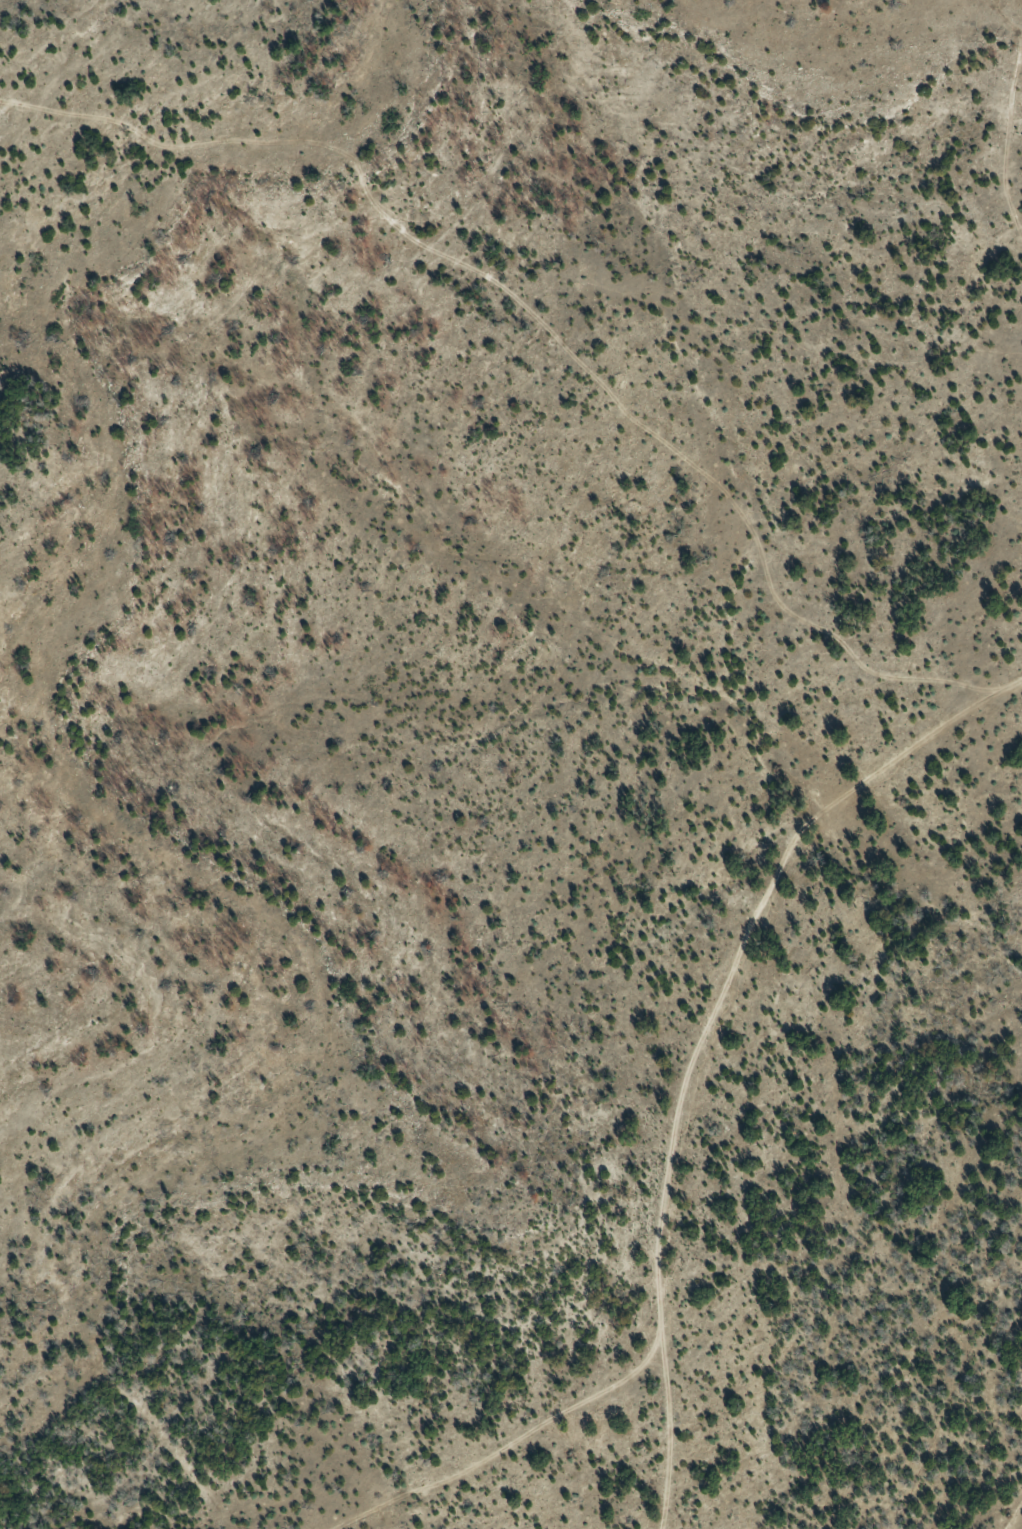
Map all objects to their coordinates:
road: (719, 1055)

